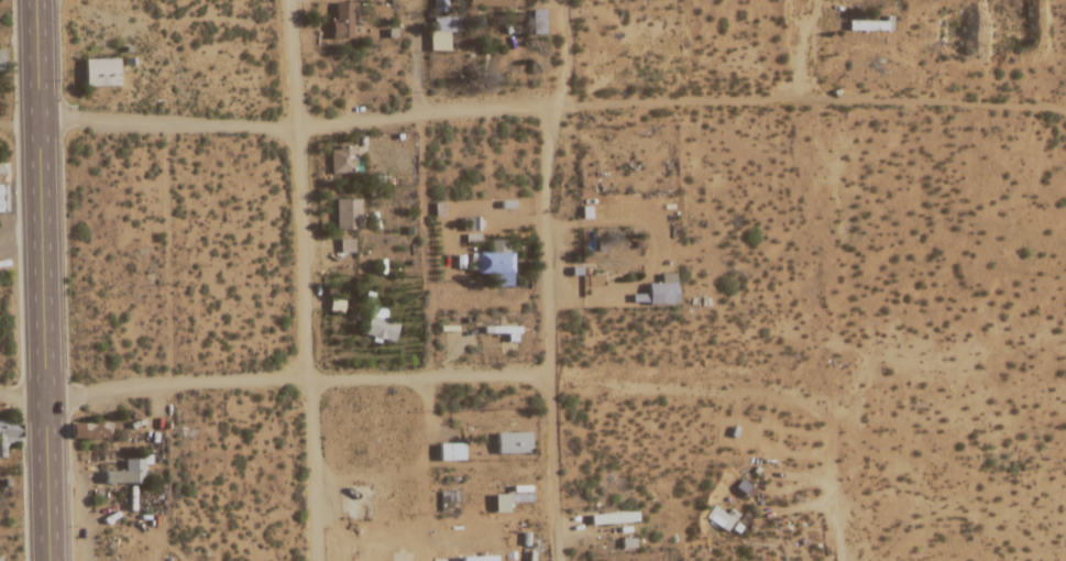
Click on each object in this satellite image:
building: (490, 2)
building: (439, 5)
building: (342, 22)
building: (443, 25)
building: (870, 26)
road: (802, 47)
building: (102, 74)
road: (421, 114)
building: (343, 159)
building: (2, 189)
building: (348, 215)
building: (496, 263)
road: (560, 279)
road: (40, 280)
road: (303, 280)
building: (660, 293)
building: (381, 330)
road: (279, 377)
building: (90, 431)
building: (8, 433)
building: (514, 443)
building: (451, 452)
building: (128, 474)
building: (614, 518)
building: (719, 519)
building: (480, 559)

